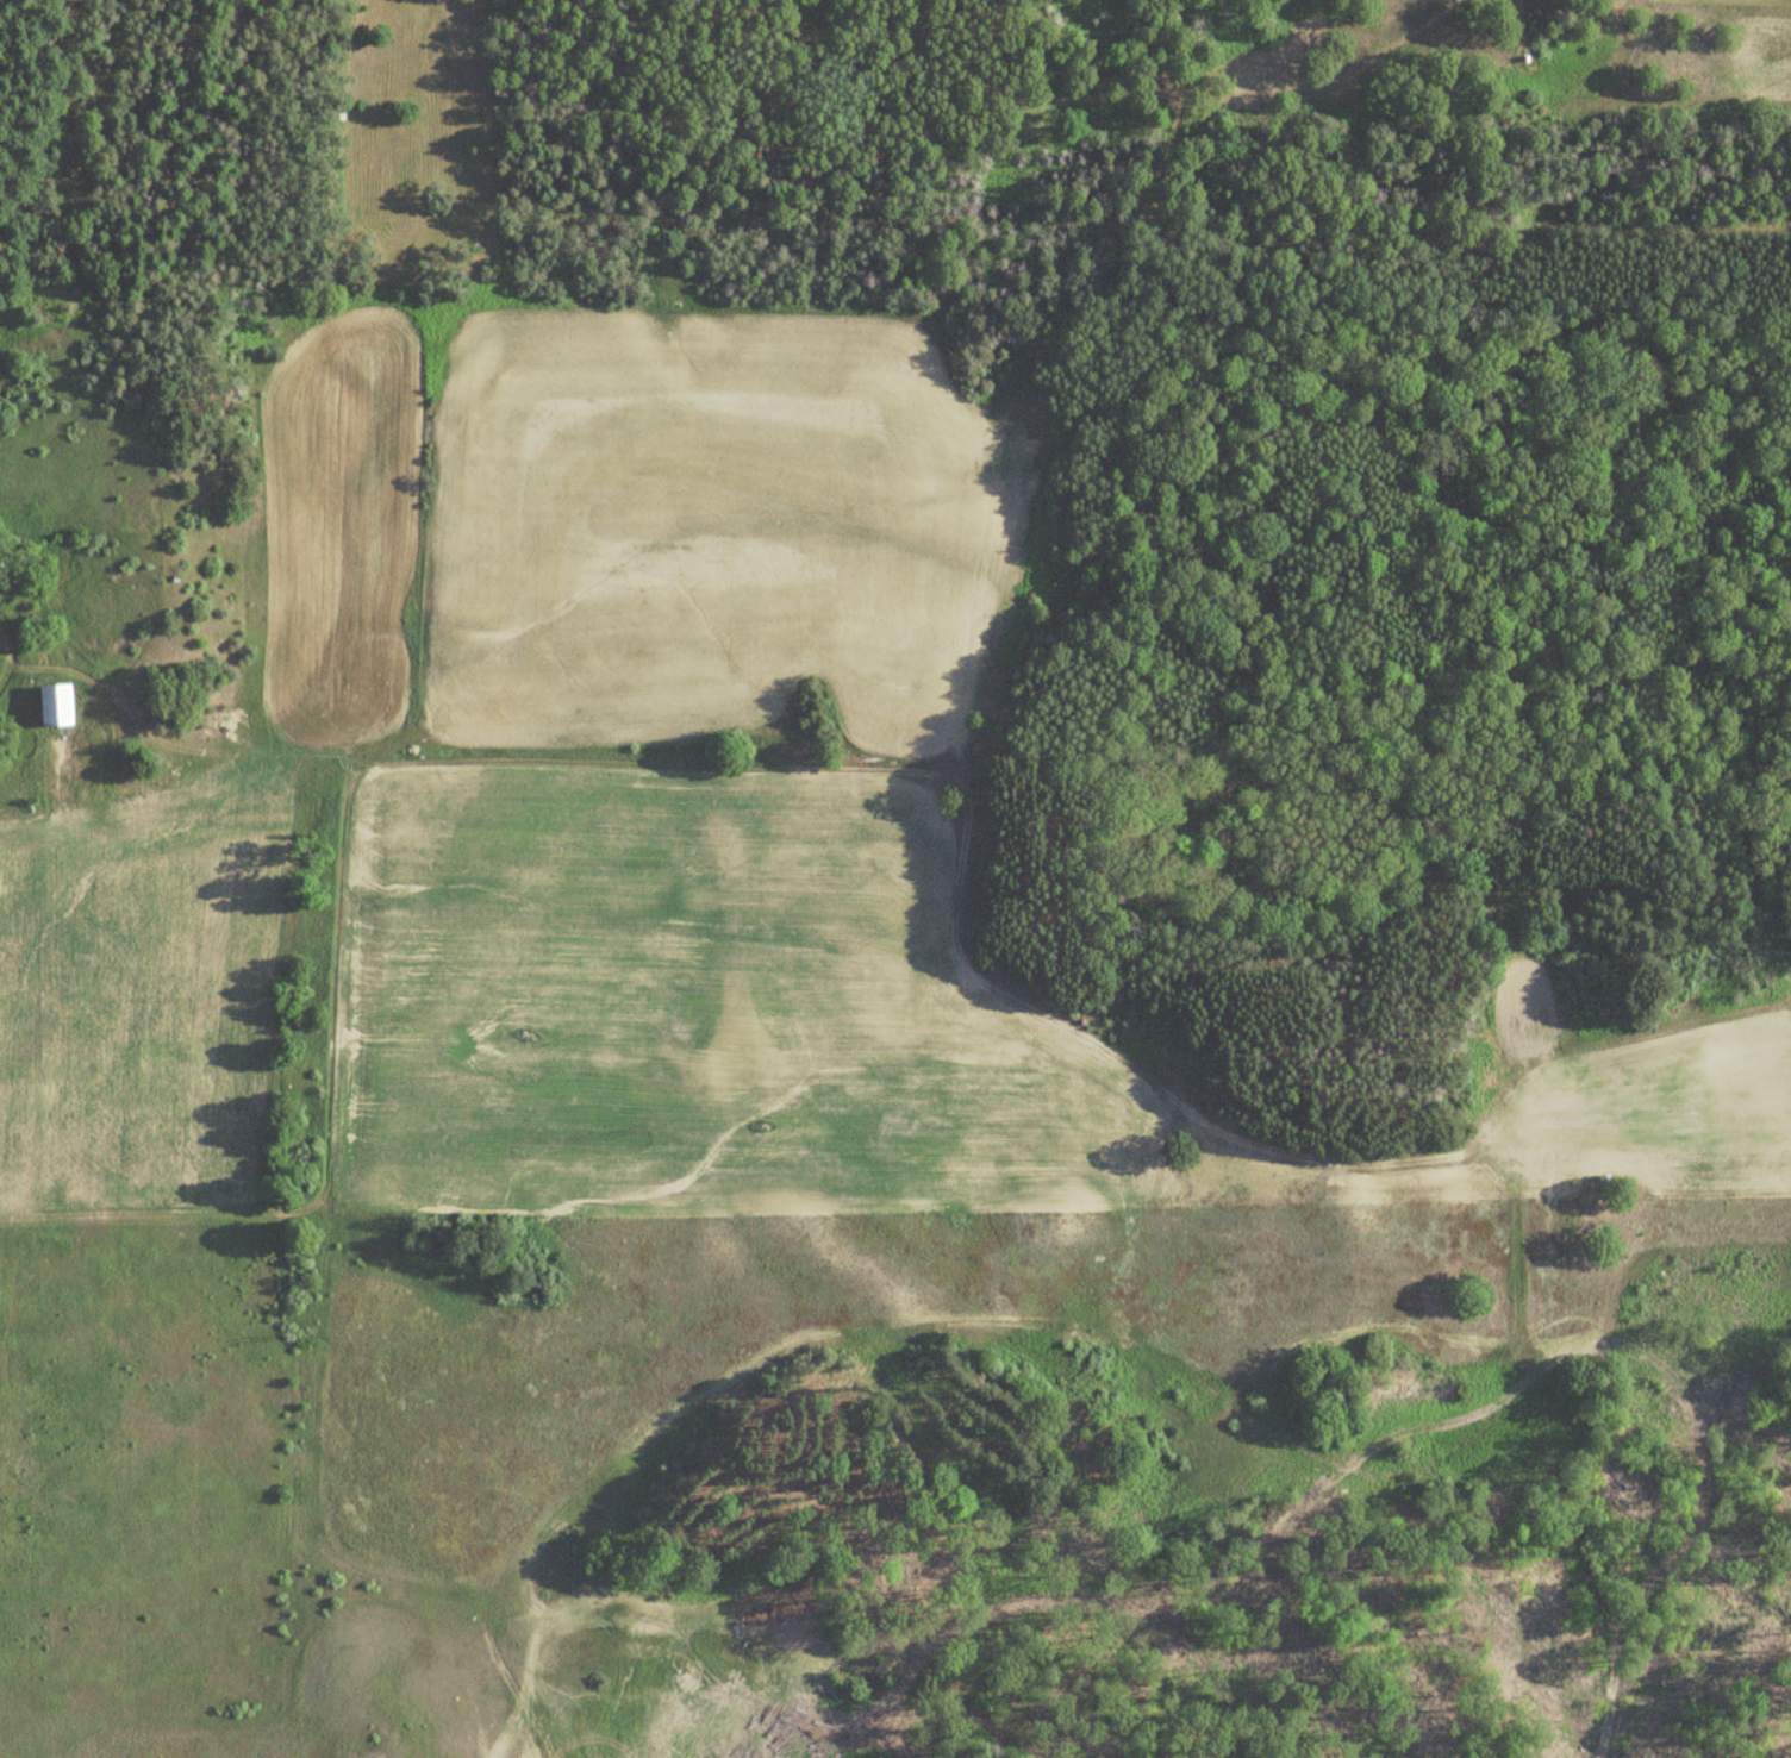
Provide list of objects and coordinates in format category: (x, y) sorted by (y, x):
building: (46, 706)

